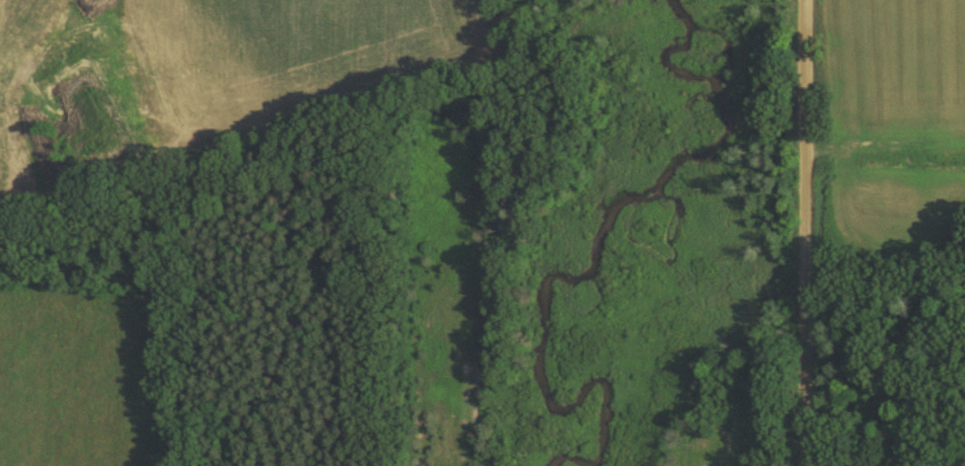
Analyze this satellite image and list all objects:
road: (809, 233)

